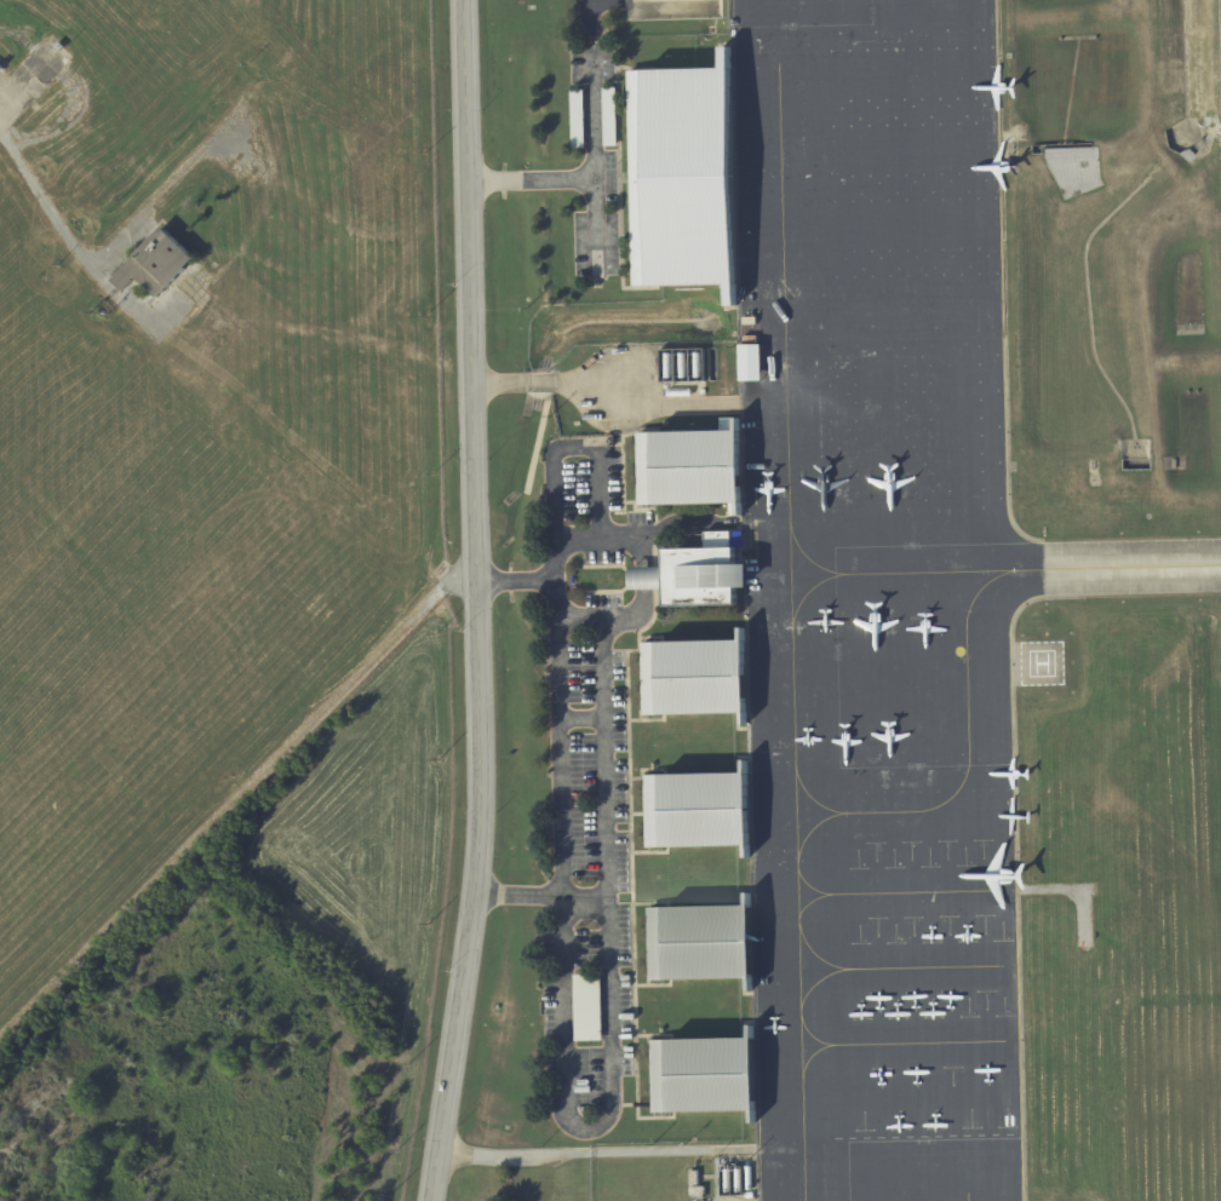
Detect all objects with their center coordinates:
building: (59, 46)
building: (0, 69)
building: (608, 102)
parking lot: (592, 159)
road: (592, 177)
building: (676, 178)
road: (46, 197)
road: (595, 225)
building: (155, 264)
building: (751, 362)
road: (558, 456)
building: (683, 469)
road: (688, 525)
road: (581, 540)
airport taxiway: (1113, 568)
road: (641, 575)
building: (695, 579)
airport: (610, 600)
airport apron: (875, 600)
road: (475, 602)
road: (591, 614)
helipad: (1039, 663)
building: (687, 679)
road: (580, 718)
road: (603, 754)
parking lot: (586, 760)
building: (694, 812)
building: (698, 944)
building: (586, 1007)
road: (563, 1070)
building: (700, 1074)
building: (587, 1108)
building: (693, 1178)
building: (697, 1191)

